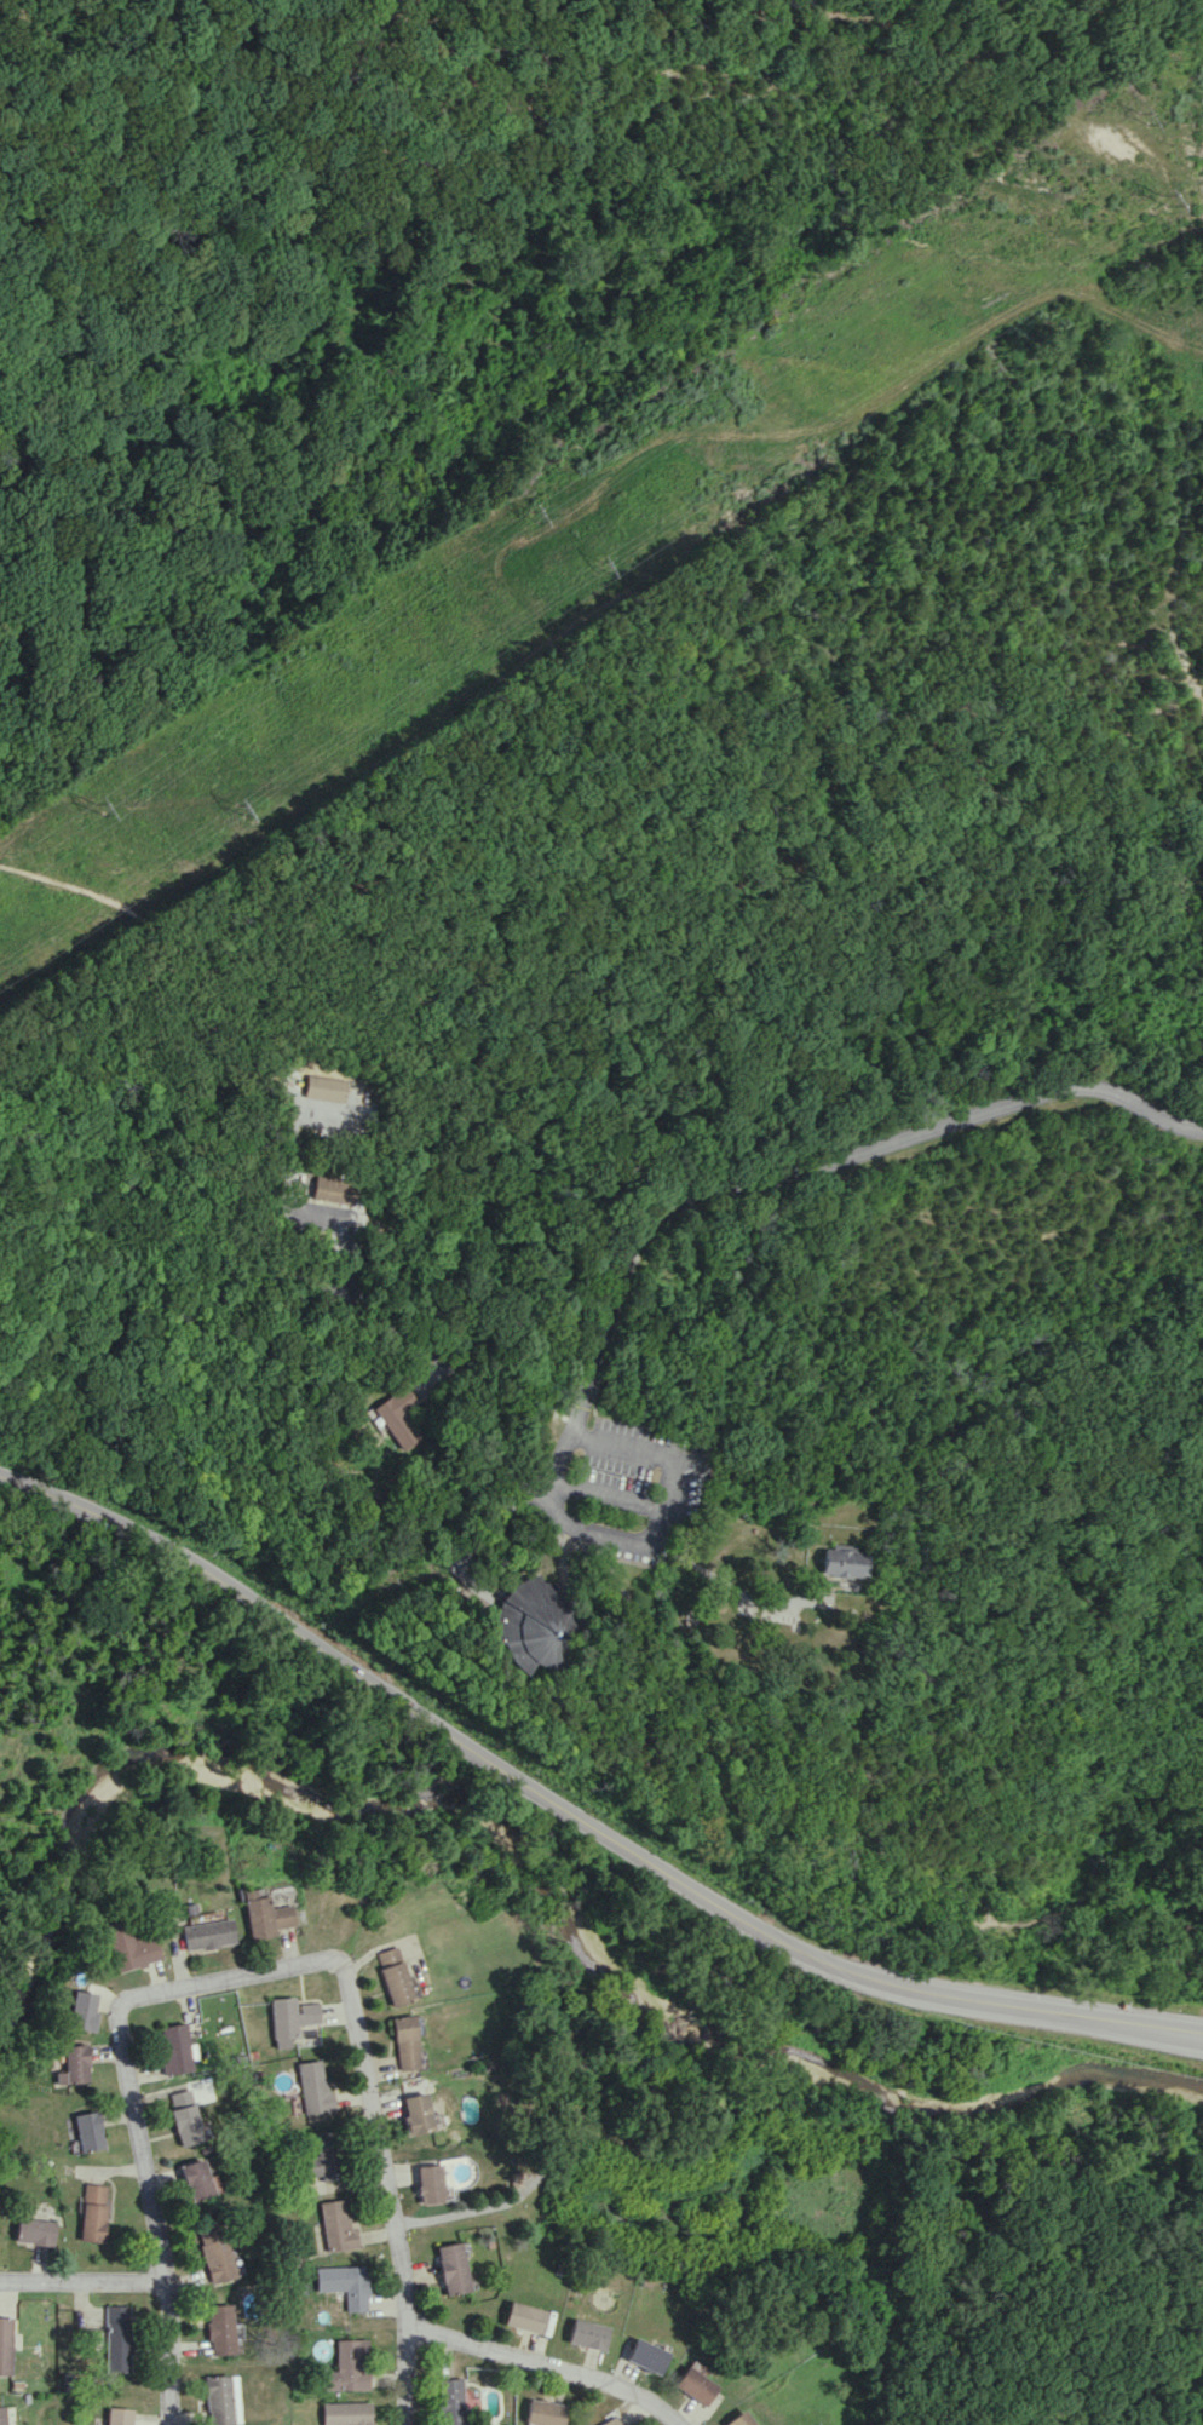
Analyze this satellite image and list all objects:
power tower: (1138, 117)
power tower: (1152, 201)
power tower: (534, 517)
power tower: (592, 567)
power tower: (94, 808)
power tower: (236, 809)
road: (137, 1017)
road: (473, 1058)
building: (322, 1087)
road: (789, 1171)
building: (330, 1189)
road: (293, 1205)
building: (608, 1321)
road: (410, 1337)
building: (395, 1414)
parking lot: (638, 1471)
road: (670, 1490)
road: (480, 1536)
road: (598, 1540)
building: (840, 1562)
road: (729, 1587)
building: (530, 1622)
road: (1086, 1668)
road: (638, 1711)
road: (576, 1822)
river: (530, 1860)
building: (261, 1914)
road: (1018, 1923)
building: (205, 1933)
building: (127, 1946)
road: (272, 1970)
building: (392, 1975)
building: (81, 2010)
building: (287, 2019)
building: (173, 2048)
building: (74, 2065)
building: (311, 2087)
building: (418, 2113)
building: (185, 2117)
building: (90, 2131)
building: (320, 2157)
building: (196, 2179)
building: (427, 2183)
building: (93, 2212)
road: (462, 2213)
building: (334, 2225)
building: (34, 2231)
building: (214, 2251)
building: (450, 2268)
road: (84, 2282)
building: (343, 2283)
building: (520, 2316)
building: (219, 2328)
building: (585, 2334)
building: (119, 2338)
building: (6, 2345)
road: (168, 2354)
building: (644, 2355)
building: (345, 2367)
road: (545, 2367)
road: (405, 2375)
building: (692, 2385)
building: (221, 2400)
building: (450, 2401)
building: (542, 2412)
building: (343, 2413)
building: (2, 2415)
building: (119, 2415)

